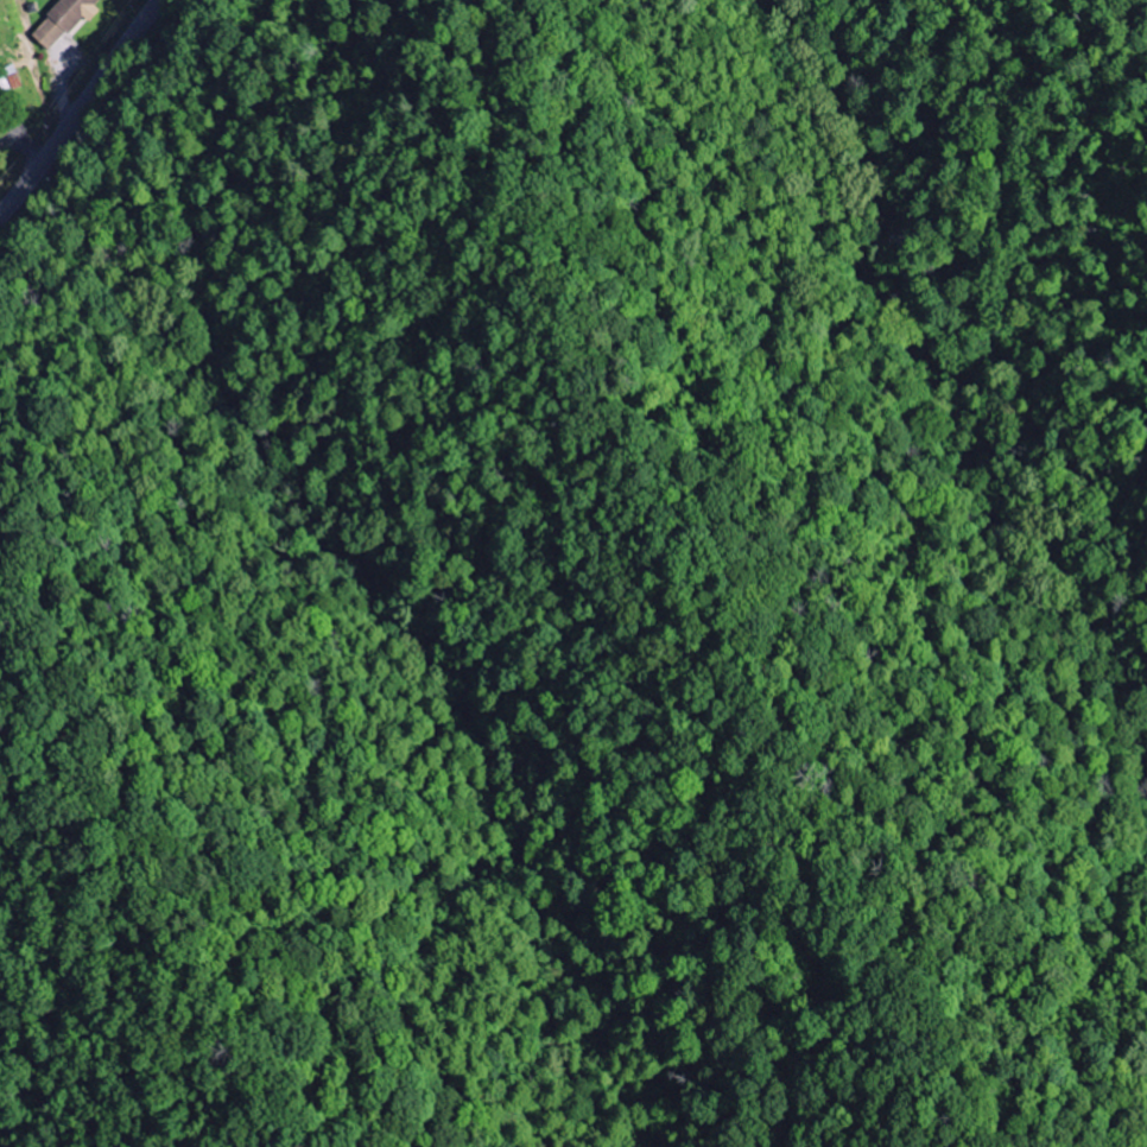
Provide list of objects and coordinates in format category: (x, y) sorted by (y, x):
building: (63, 21)
road: (78, 104)

